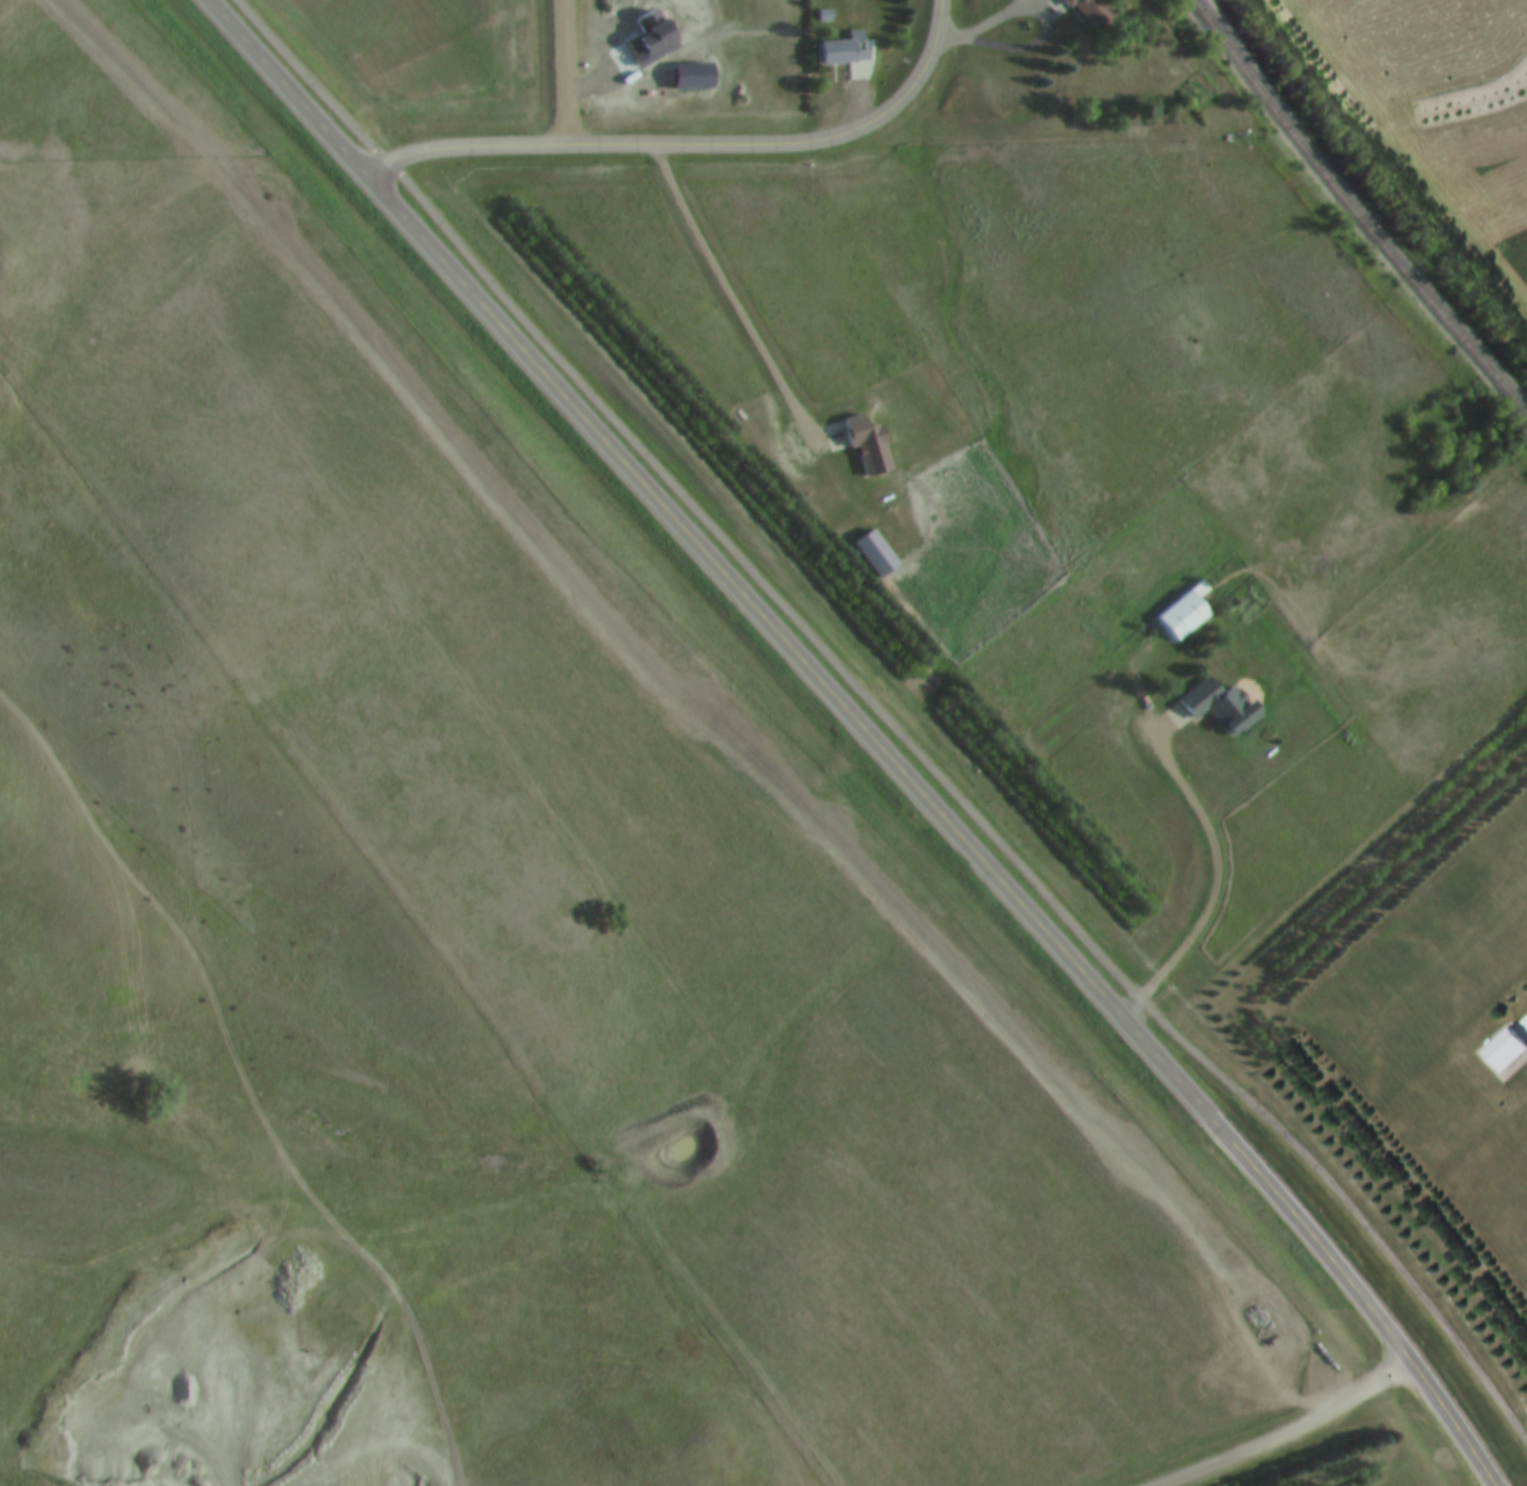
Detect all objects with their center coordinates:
building: (1083, 13)
road: (1046, 31)
building: (844, 53)
road: (692, 143)
railway: (1355, 208)
building: (864, 445)
building: (873, 554)
building: (1183, 612)
building: (1218, 707)
road: (886, 718)
road: (867, 733)
road: (1211, 831)
building: (1505, 1051)
road: (1299, 1435)
quarry: (417, 1473)

